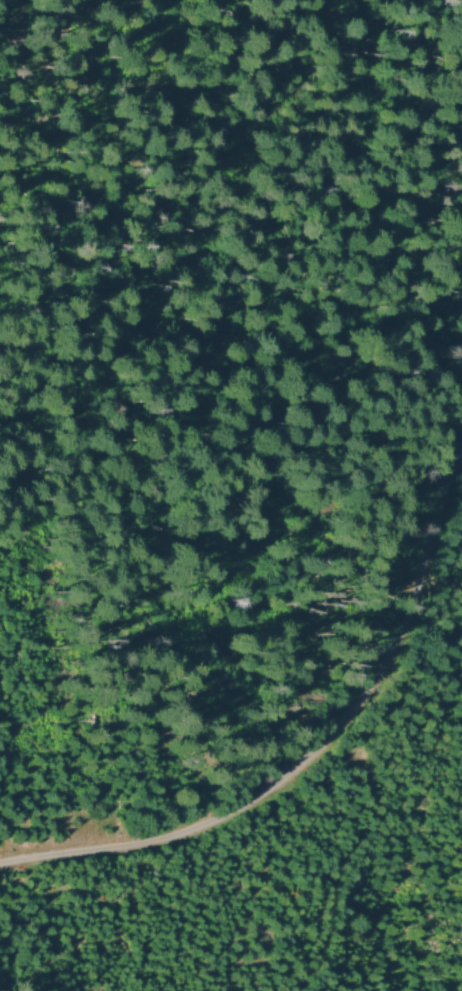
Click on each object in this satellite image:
road: (308, 759)

